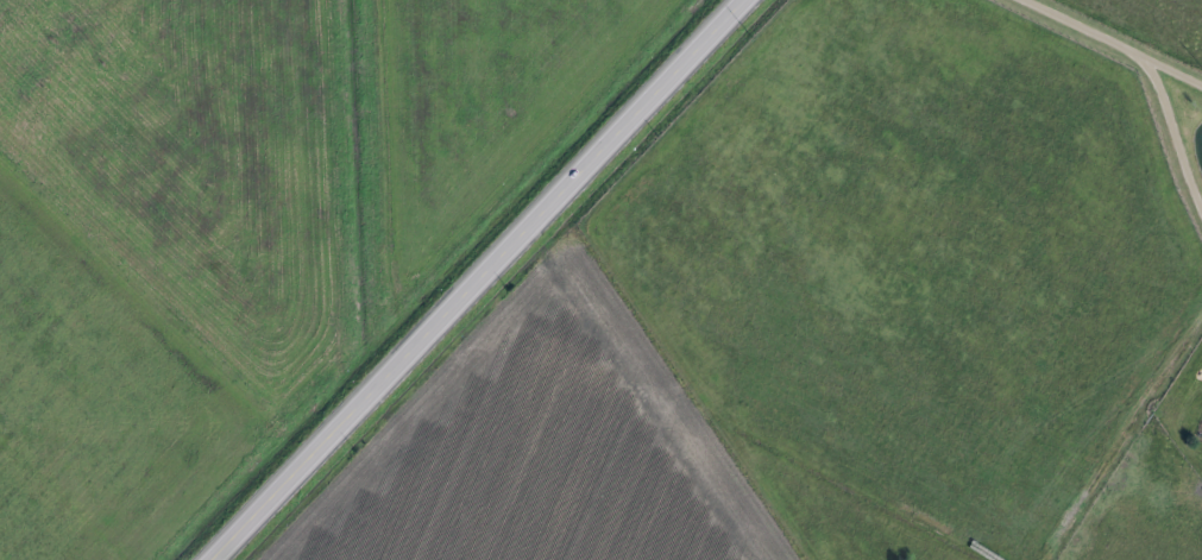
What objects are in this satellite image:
road: (1113, 44)
road: (1170, 136)
road: (467, 278)
road: (156, 292)

